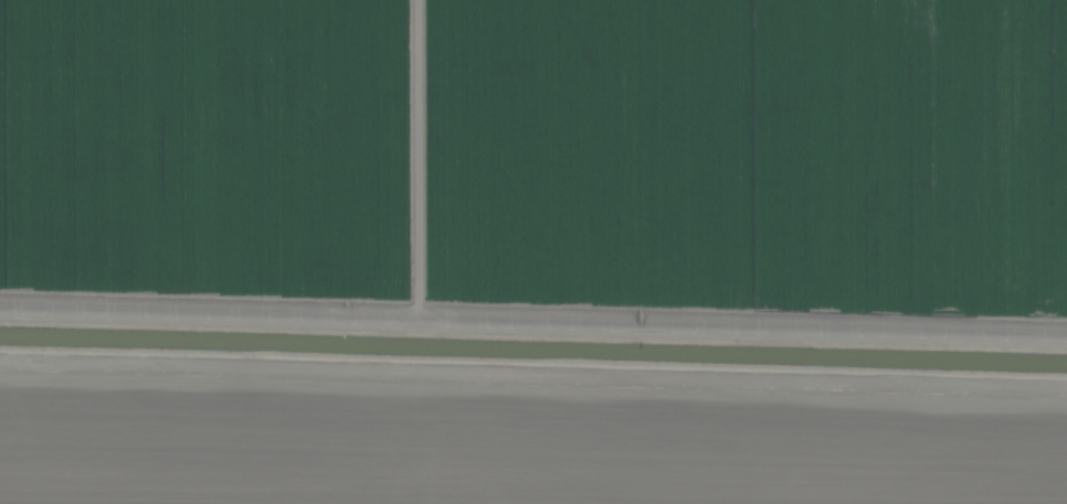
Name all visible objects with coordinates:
crop: (533, 251)

